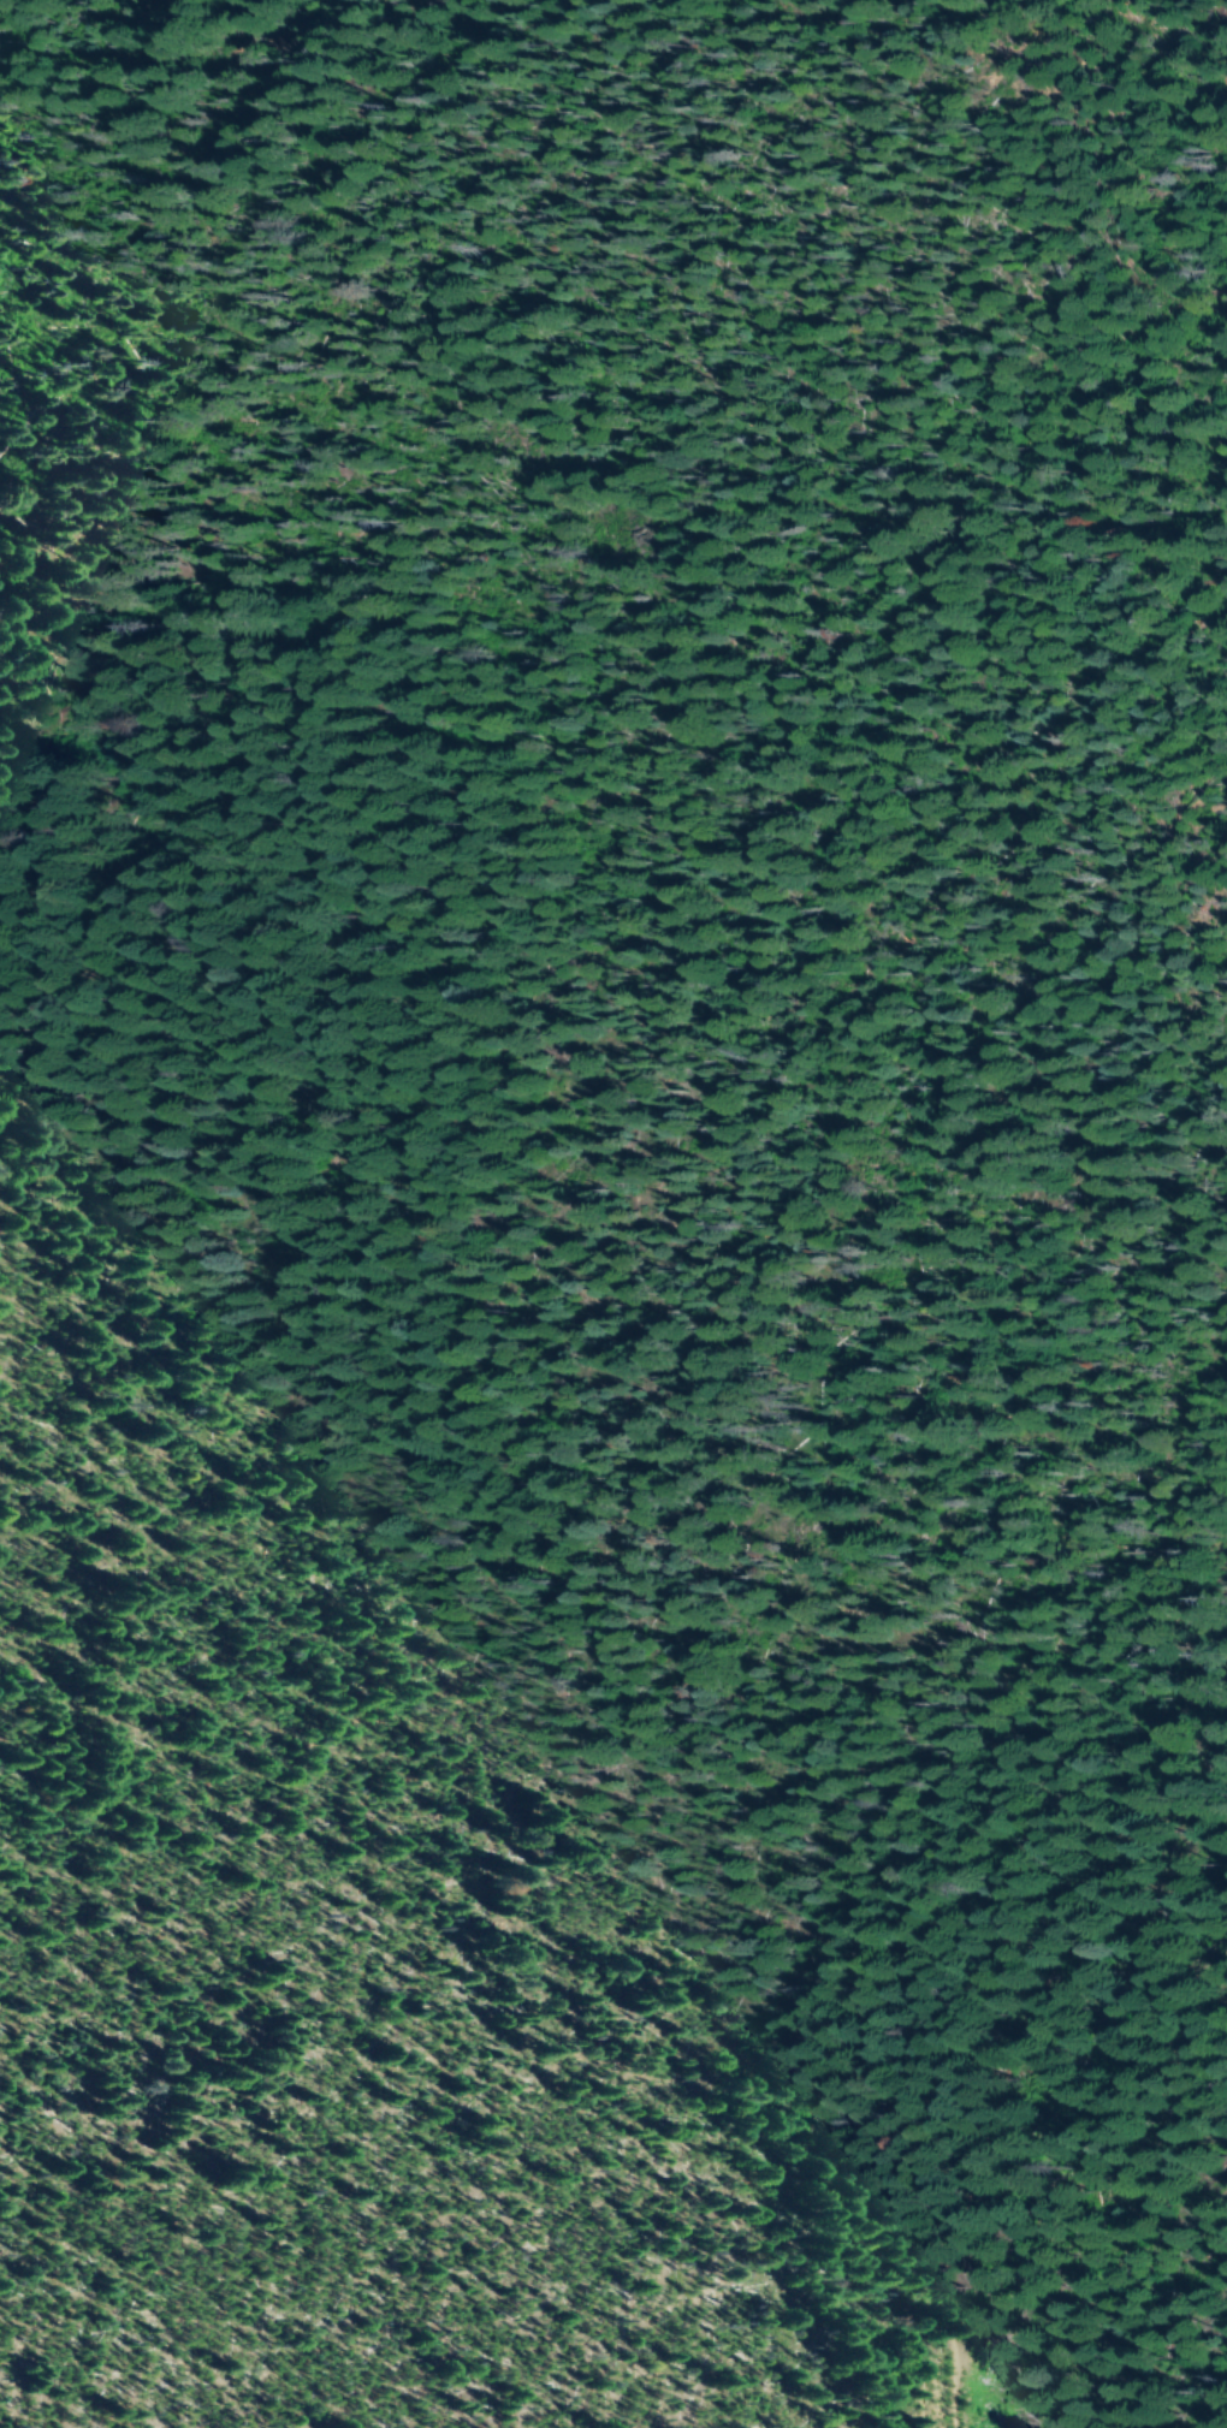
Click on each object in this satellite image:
road: (1211, 64)
road: (1033, 1996)

